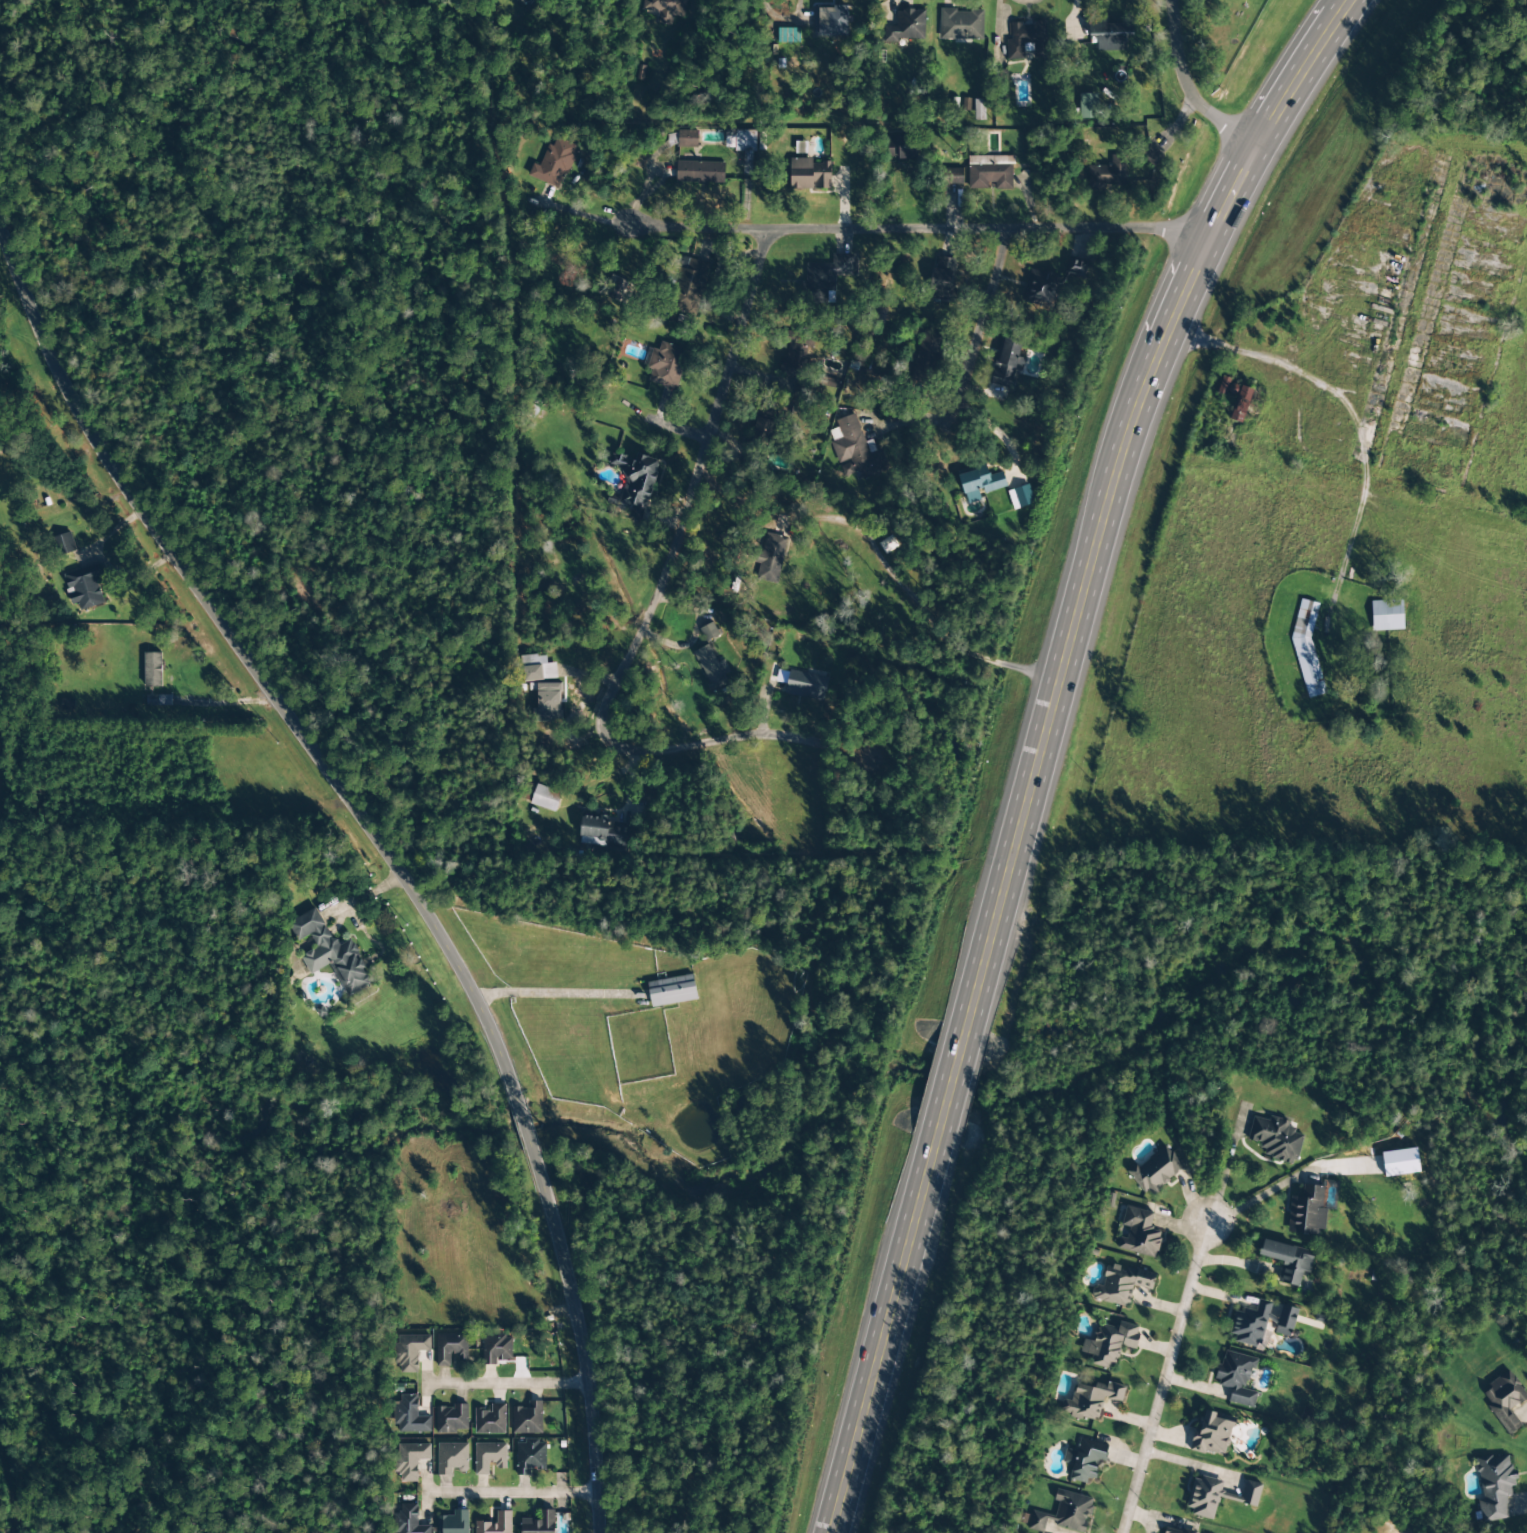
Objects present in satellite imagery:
building: (665, 9)
road: (1071, 14)
building: (830, 21)
building: (960, 25)
building: (906, 26)
road: (991, 33)
building: (788, 35)
building: (1110, 35)
building: (1025, 40)
road: (1185, 90)
building: (1088, 106)
building: (687, 139)
building: (902, 148)
building: (1150, 152)
building: (553, 164)
building: (700, 172)
building: (990, 172)
building: (809, 174)
building: (1107, 174)
building: (951, 176)
road: (150, 195)
road: (896, 219)
building: (1076, 269)
building: (825, 278)
building: (941, 279)
building: (689, 284)
building: (1041, 287)
building: (618, 290)
road: (1409, 304)
road: (980, 324)
building: (793, 355)
building: (926, 356)
building: (1007, 364)
building: (666, 365)
building: (1226, 385)
building: (1240, 404)
road: (1351, 414)
building: (765, 426)
building: (855, 451)
building: (635, 482)
building: (979, 483)
road: (573, 490)
road: (1108, 494)
building: (1020, 497)
building: (64, 544)
road: (654, 549)
building: (770, 558)
building: (84, 588)
building: (1386, 615)
building: (708, 632)
building: (1306, 648)
building: (711, 667)
building: (537, 668)
building: (152, 670)
road: (243, 678)
building: (802, 685)
building: (547, 703)
building: (545, 798)
building: (602, 832)
building: (330, 953)
building: (671, 991)
road: (951, 1082)
road: (523, 1128)
building: (1275, 1139)
building: (1400, 1163)
building: (1156, 1170)
building: (1307, 1211)
building: (1139, 1233)
building: (1287, 1261)
building: (1121, 1285)
road: (883, 1335)
road: (578, 1339)
building: (1109, 1344)
building: (450, 1346)
building: (496, 1349)
building: (410, 1351)
building: (1236, 1376)
road: (1161, 1377)
road: (505, 1383)
building: (1504, 1400)
building: (1090, 1401)
building: (409, 1416)
building: (451, 1419)
building: (527, 1419)
building: (490, 1420)
building: (1212, 1433)
building: (529, 1456)
building: (489, 1457)
building: (451, 1458)
building: (410, 1460)
building: (1085, 1460)
building: (1495, 1486)
road: (42, 1487)
road: (510, 1492)
building: (1217, 1496)
building: (1065, 1513)
building: (408, 1520)
building: (453, 1522)
building: (539, 1523)
building: (496, 1524)
building: (1173, 1531)

